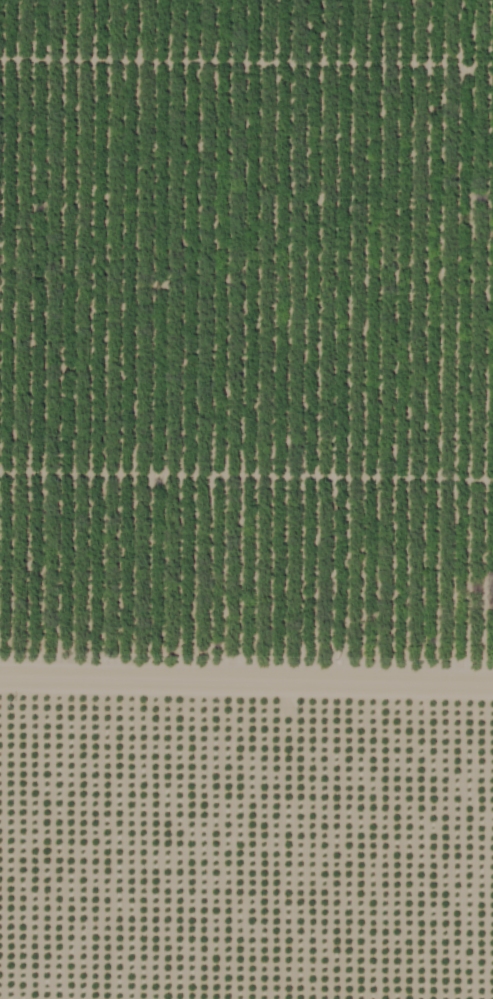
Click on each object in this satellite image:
road: (246, 662)

